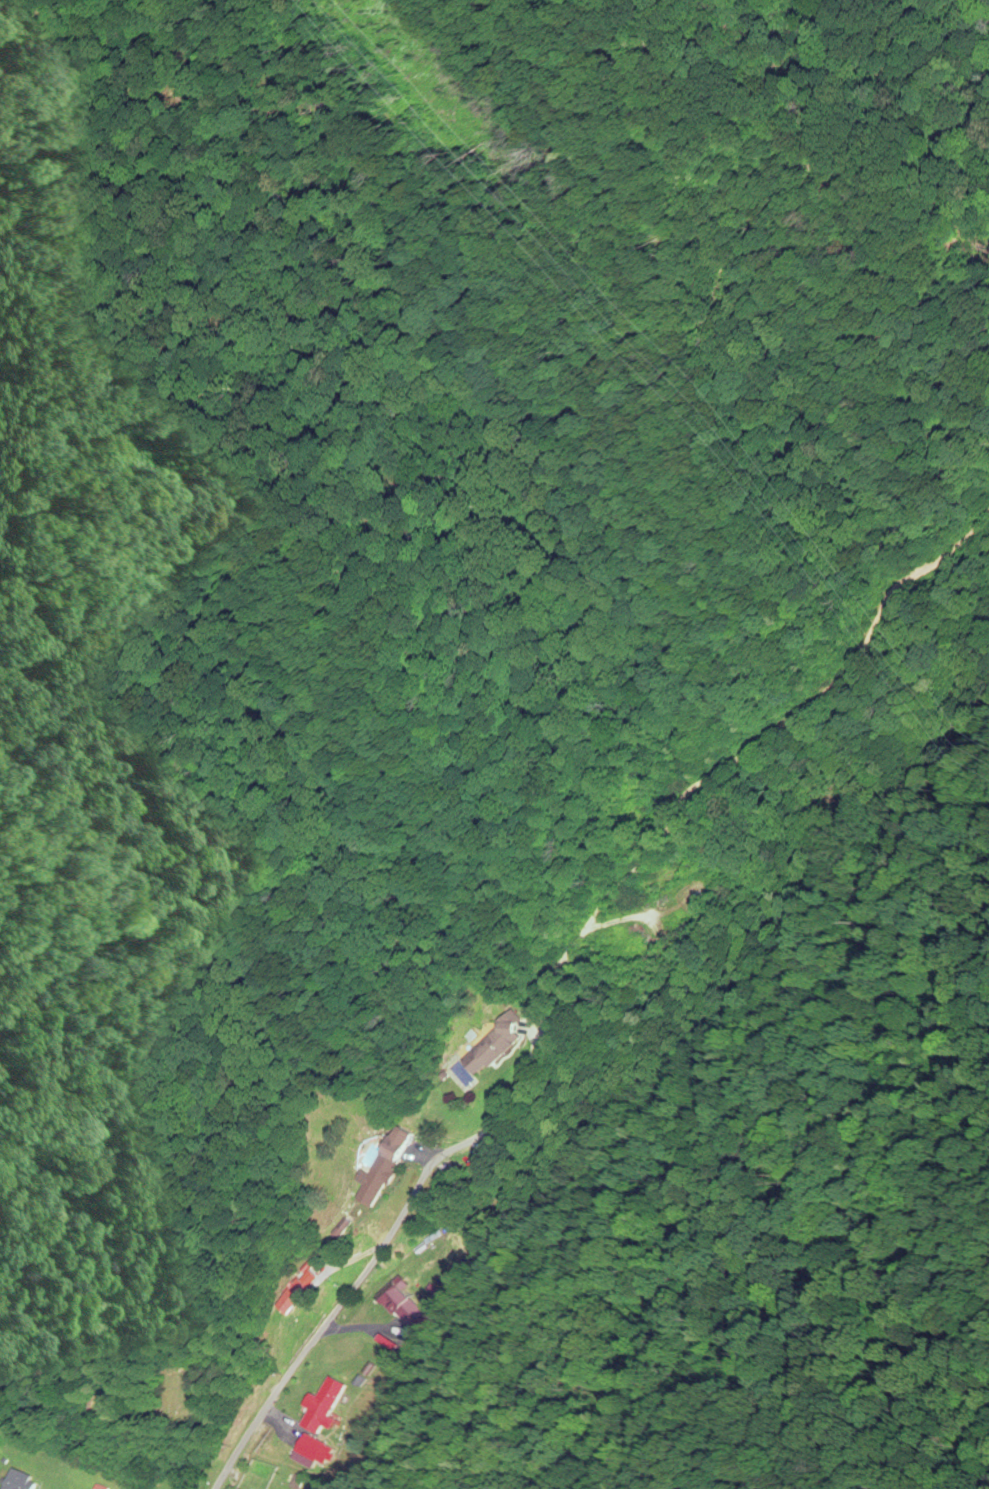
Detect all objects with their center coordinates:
building: (499, 1047)
building: (390, 1171)
road: (388, 1233)
building: (400, 1298)
building: (329, 1407)
building: (318, 1451)
building: (23, 1482)

